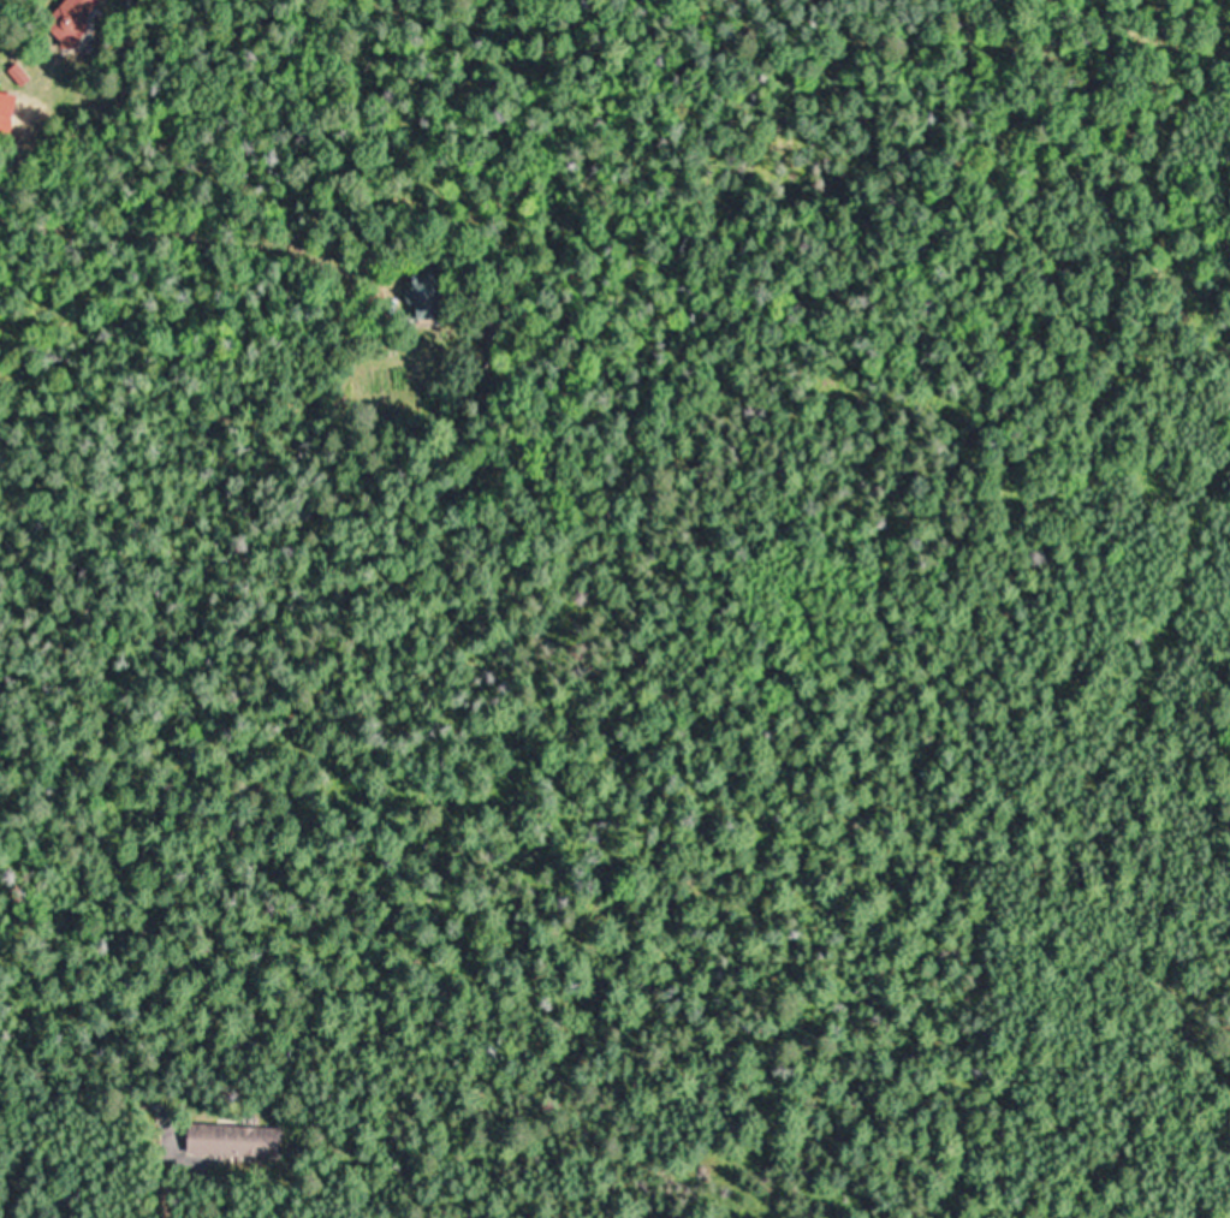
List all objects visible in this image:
building: (71, 23)
building: (412, 295)
building: (232, 1141)

